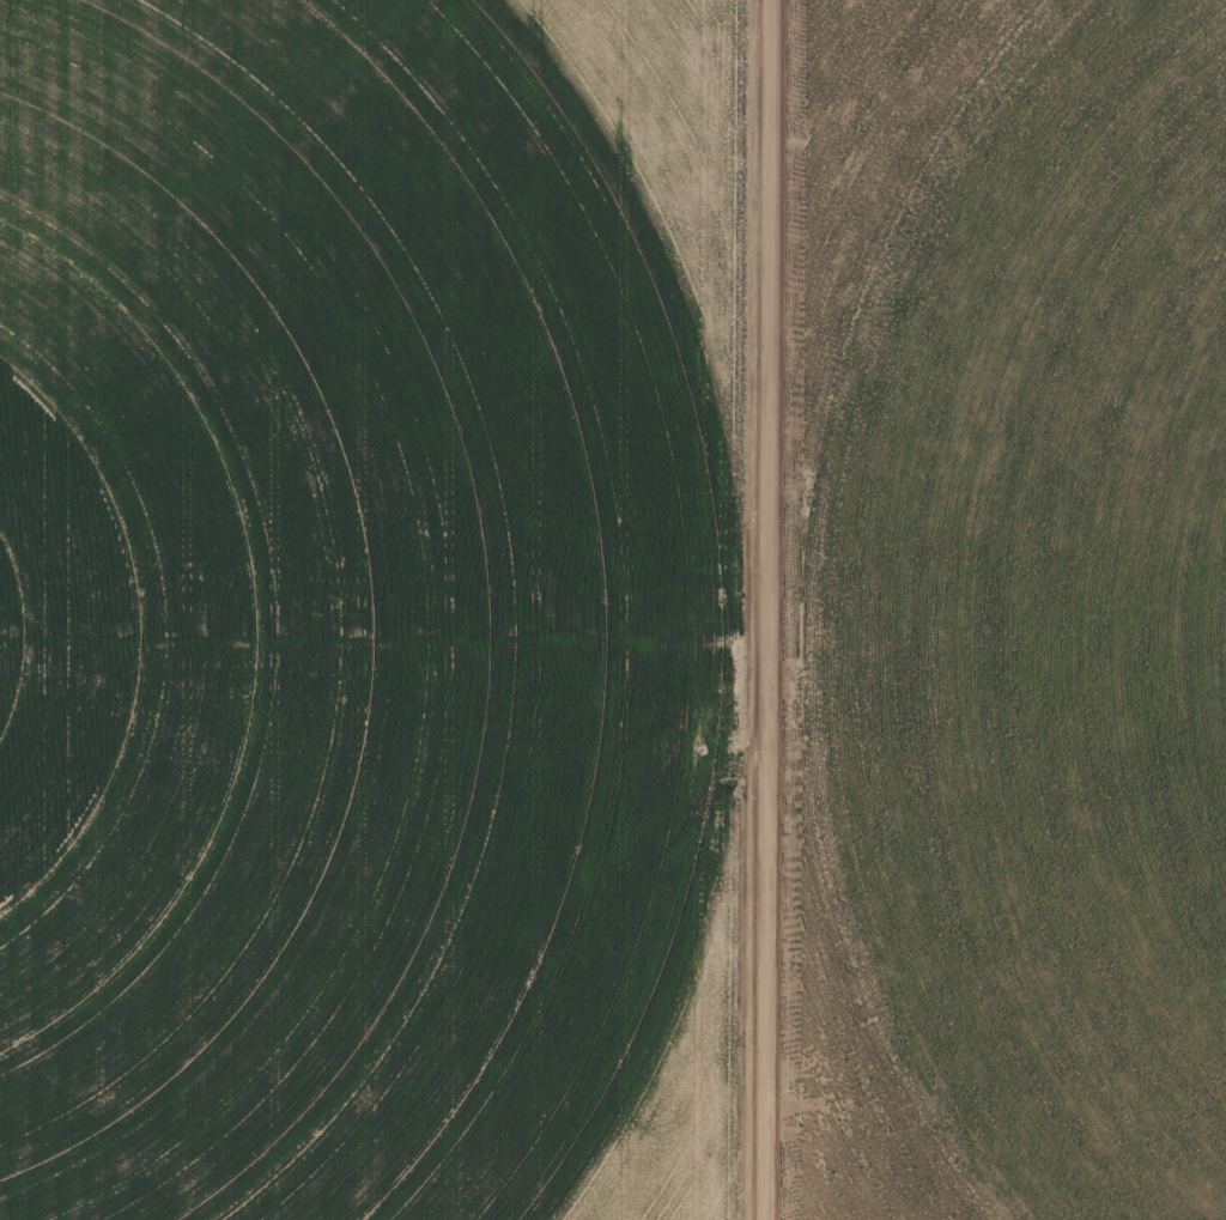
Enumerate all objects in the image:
road: (746, 609)

